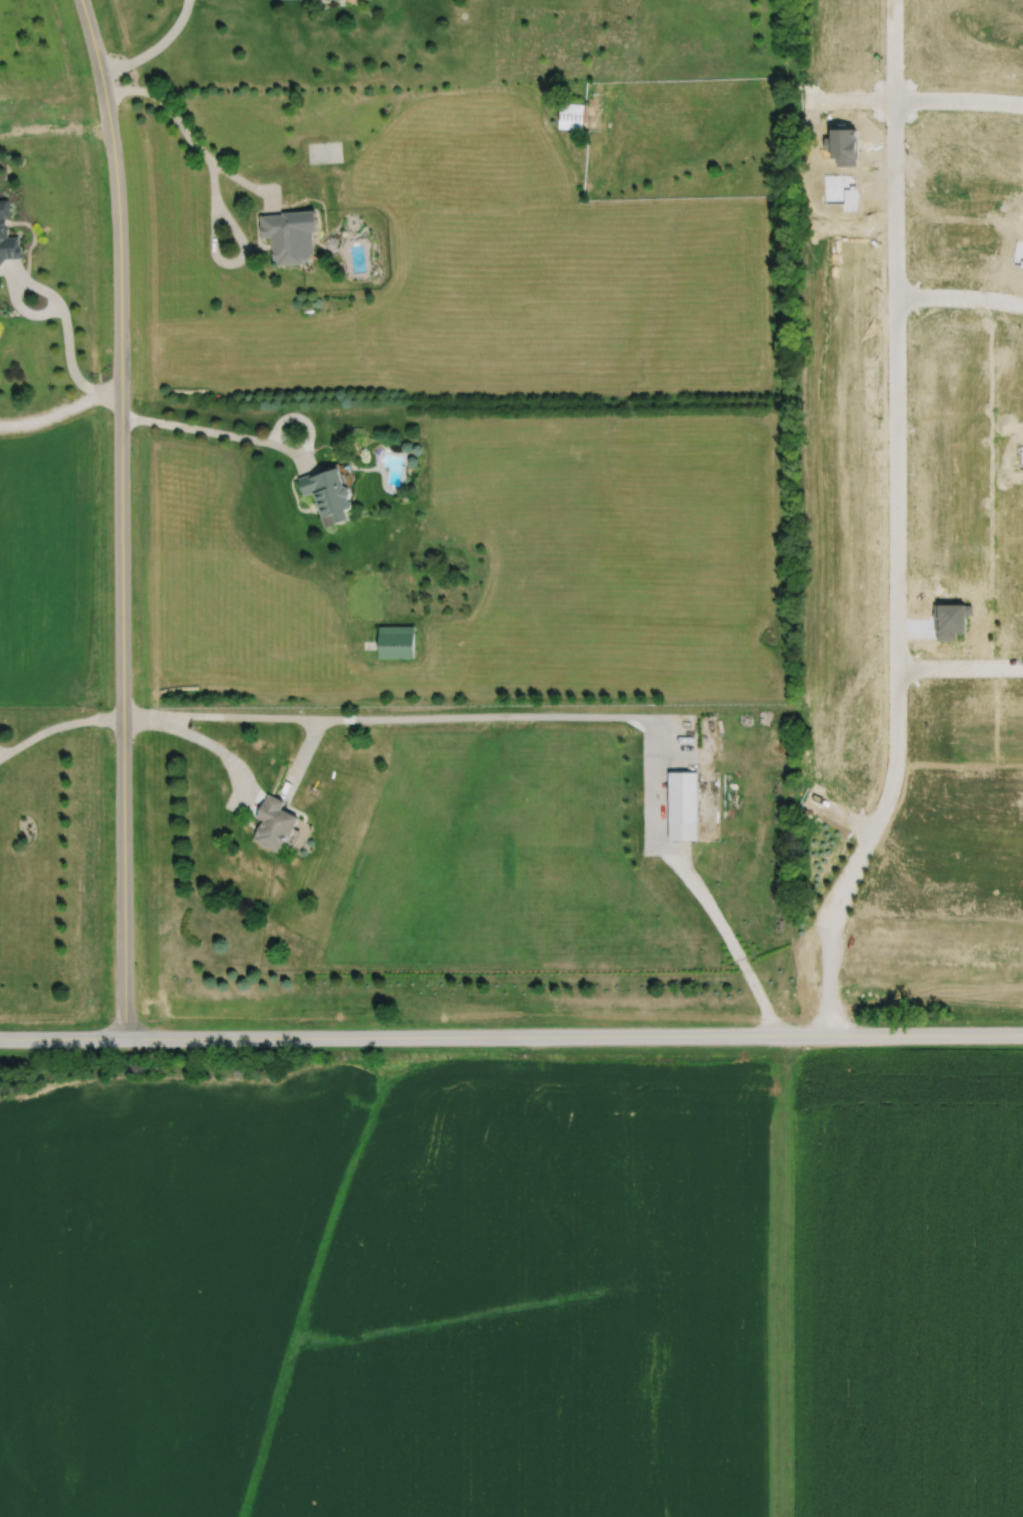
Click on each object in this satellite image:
road: (156, 49)
road: (917, 100)
building: (568, 116)
road: (212, 184)
building: (6, 234)
building: (282, 237)
road: (960, 298)
road: (58, 304)
road: (52, 413)
road: (216, 434)
building: (923, 471)
building: (326, 495)
road: (122, 518)
road: (899, 525)
building: (393, 643)
road: (961, 668)
road: (564, 716)
road: (59, 732)
road: (202, 741)
road: (1, 758)
building: (681, 807)
building: (270, 826)
road: (511, 1037)
airport runway: (779, 1287)

